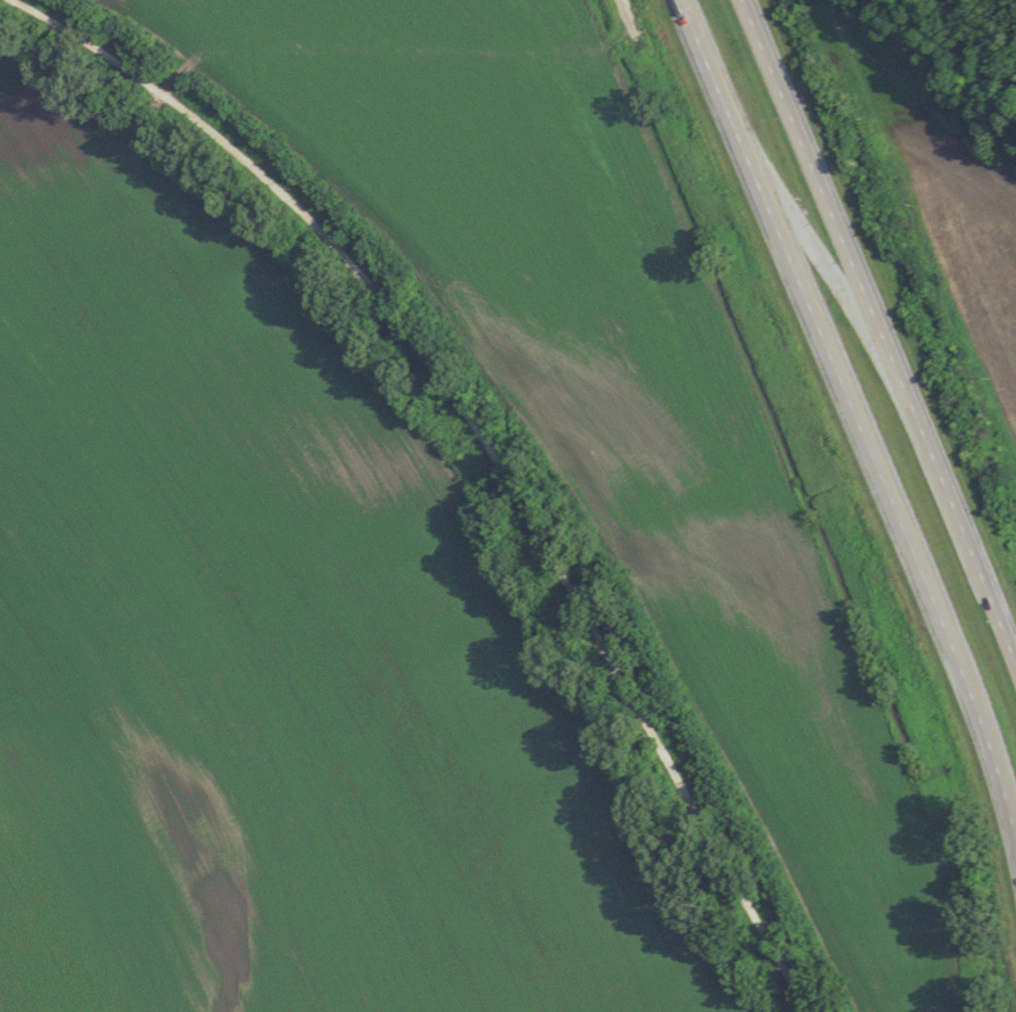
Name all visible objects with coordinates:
crop: (943, 200)
road: (880, 326)
crop: (614, 398)
road: (853, 413)
road: (487, 442)
crop: (275, 644)

